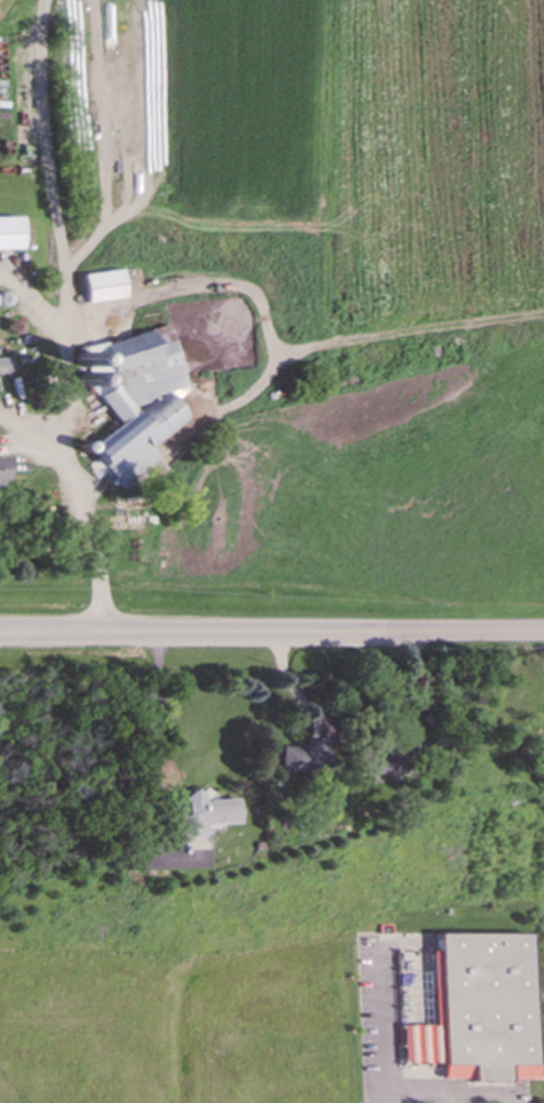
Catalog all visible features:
crop: (11, 18)
road: (101, 143)
building: (8, 233)
crop: (388, 268)
building: (100, 285)
road: (31, 302)
road: (65, 317)
building: (5, 365)
building: (133, 401)
road: (31, 436)
building: (1, 474)
road: (271, 632)
road: (154, 744)
building: (306, 757)
building: (376, 763)
building: (206, 813)
building: (497, 1008)
road: (400, 1023)

